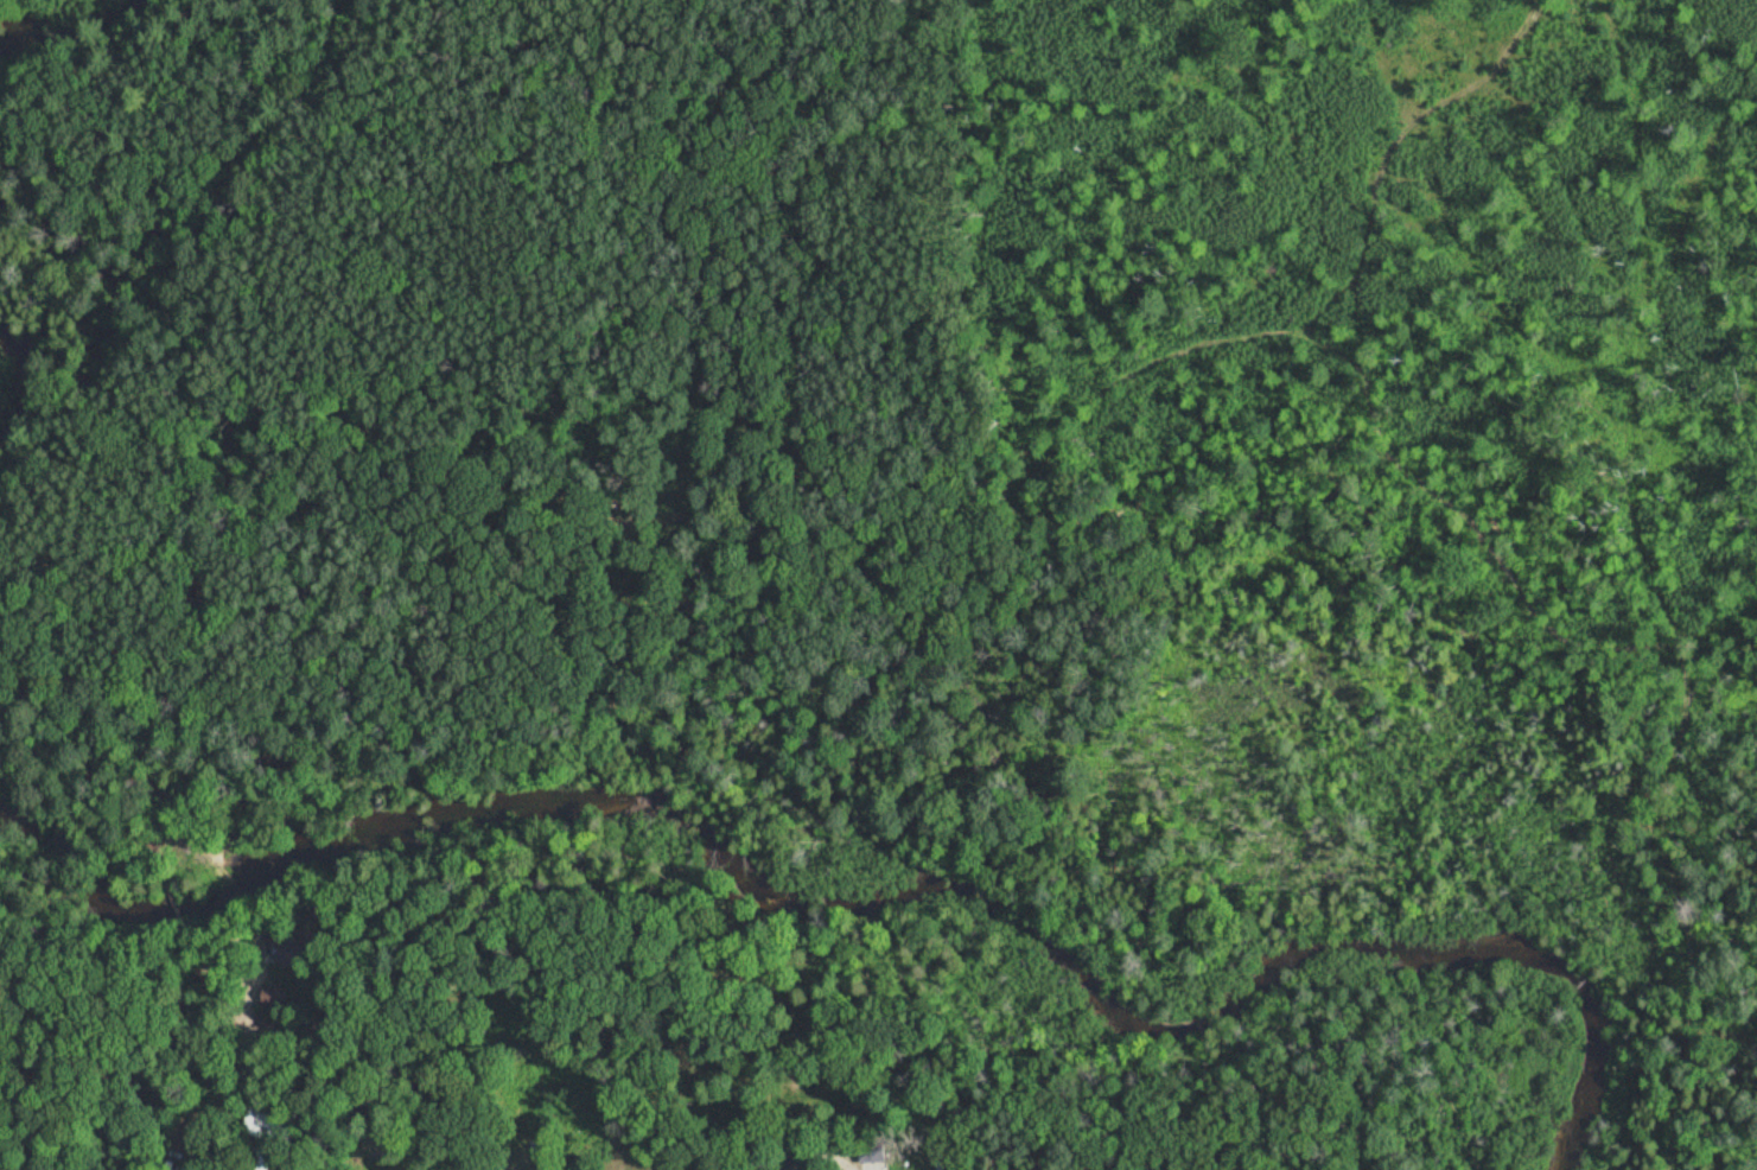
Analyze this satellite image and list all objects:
river: (65, 25)
river: (14, 384)
river: (885, 895)

